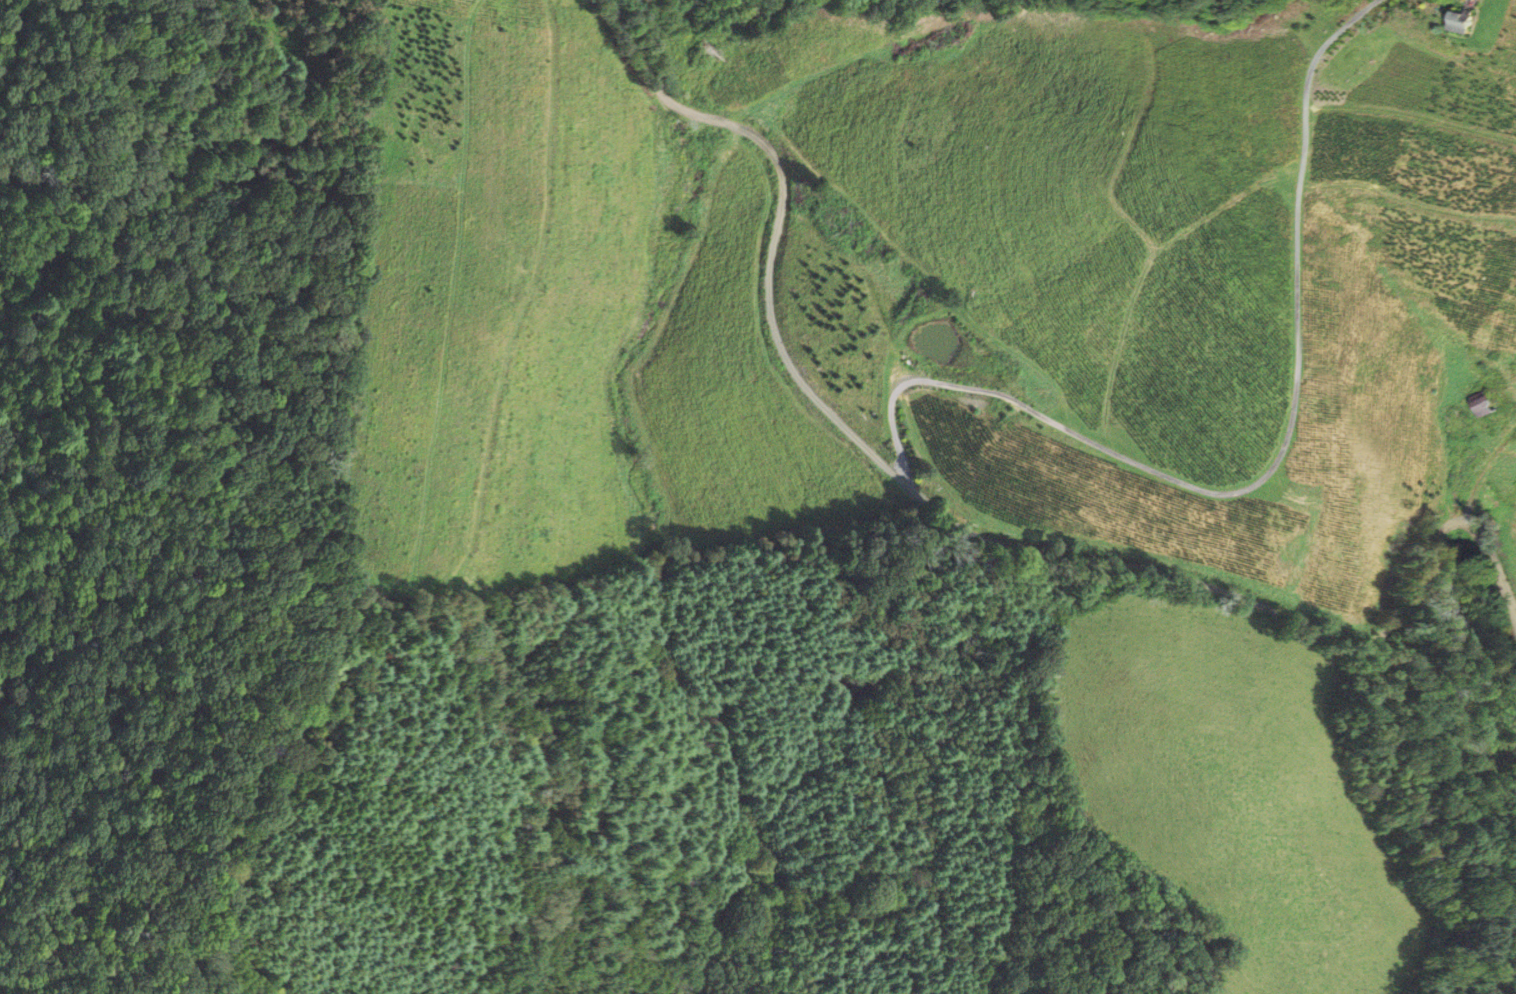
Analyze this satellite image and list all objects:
building: (1454, 22)
building: (1480, 407)
road: (1265, 467)
road: (959, 521)
building: (1514, 744)

